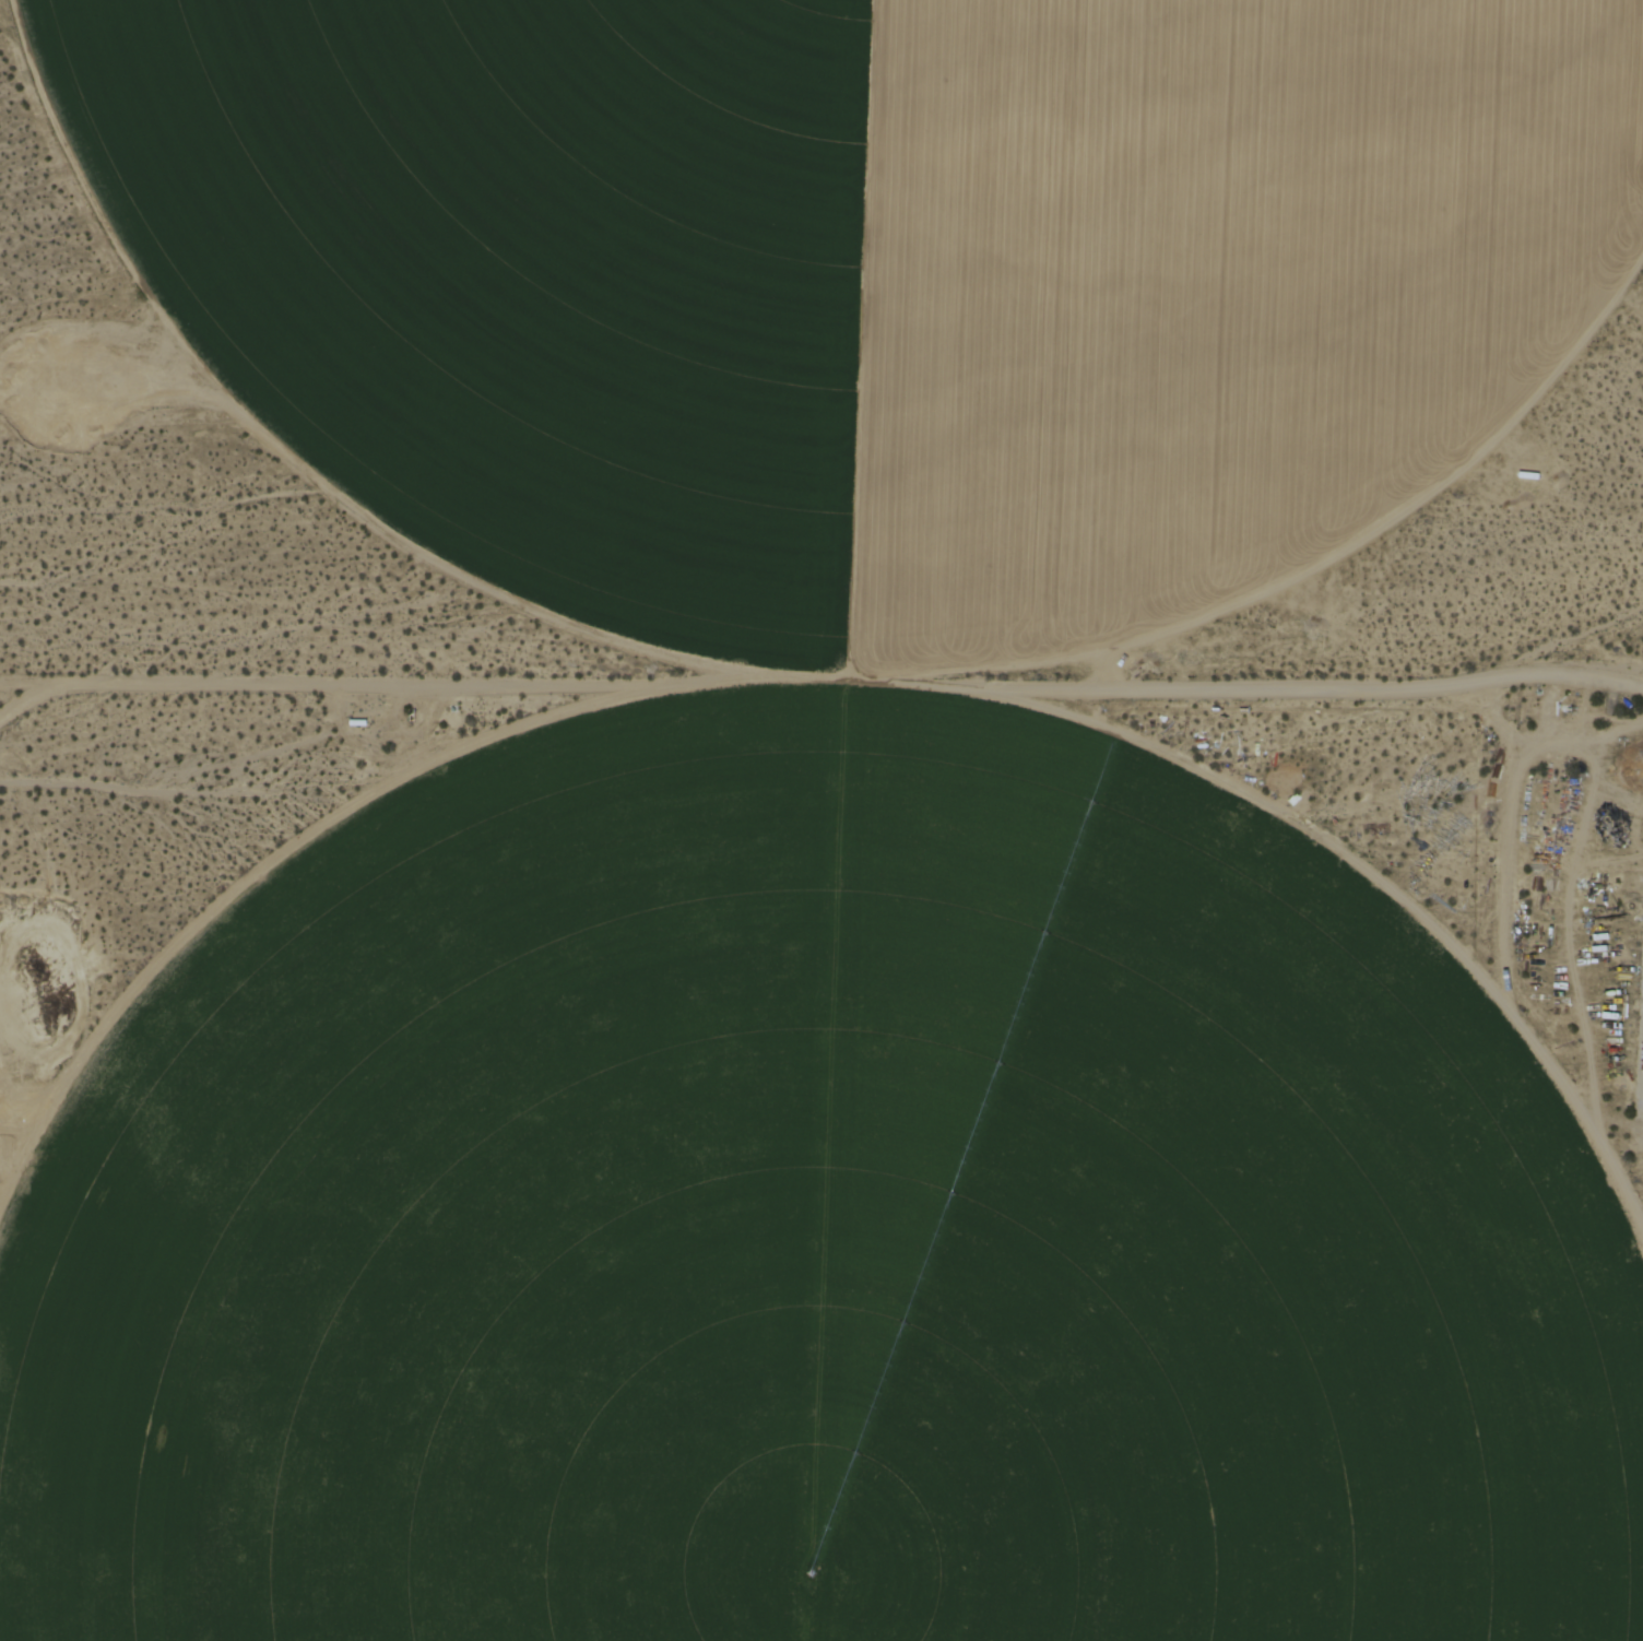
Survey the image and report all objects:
crop: (838, 261)
road: (821, 672)
crop: (811, 1276)

